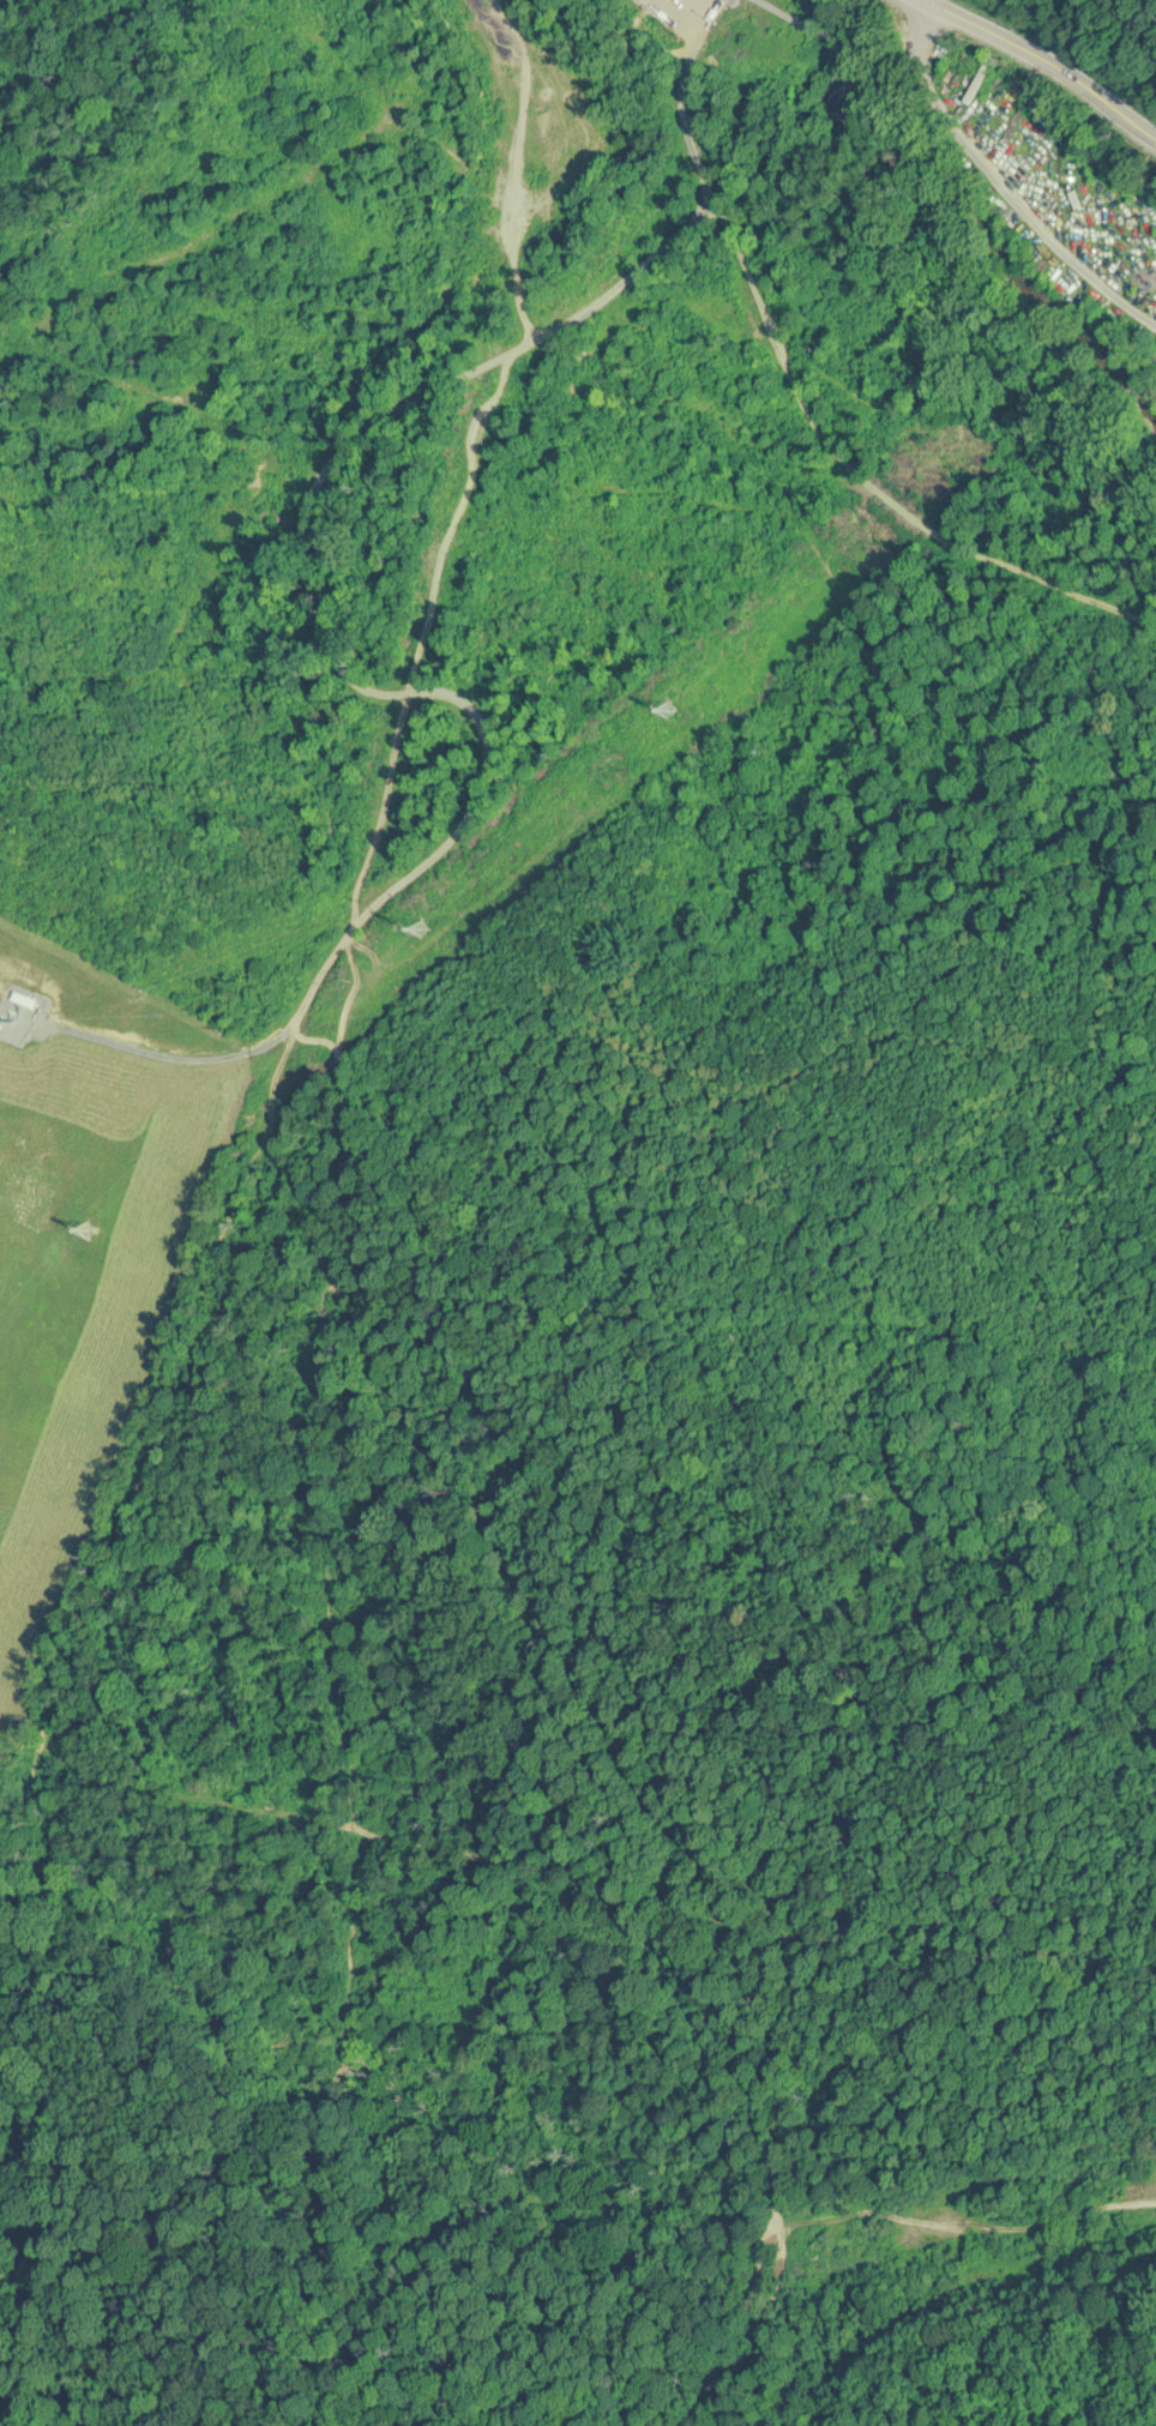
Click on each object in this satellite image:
road: (1043, 61)
building: (842, 104)
power tower: (891, 505)
power tower: (672, 706)
power tower: (419, 925)
building: (23, 1000)
power tower: (80, 1236)

